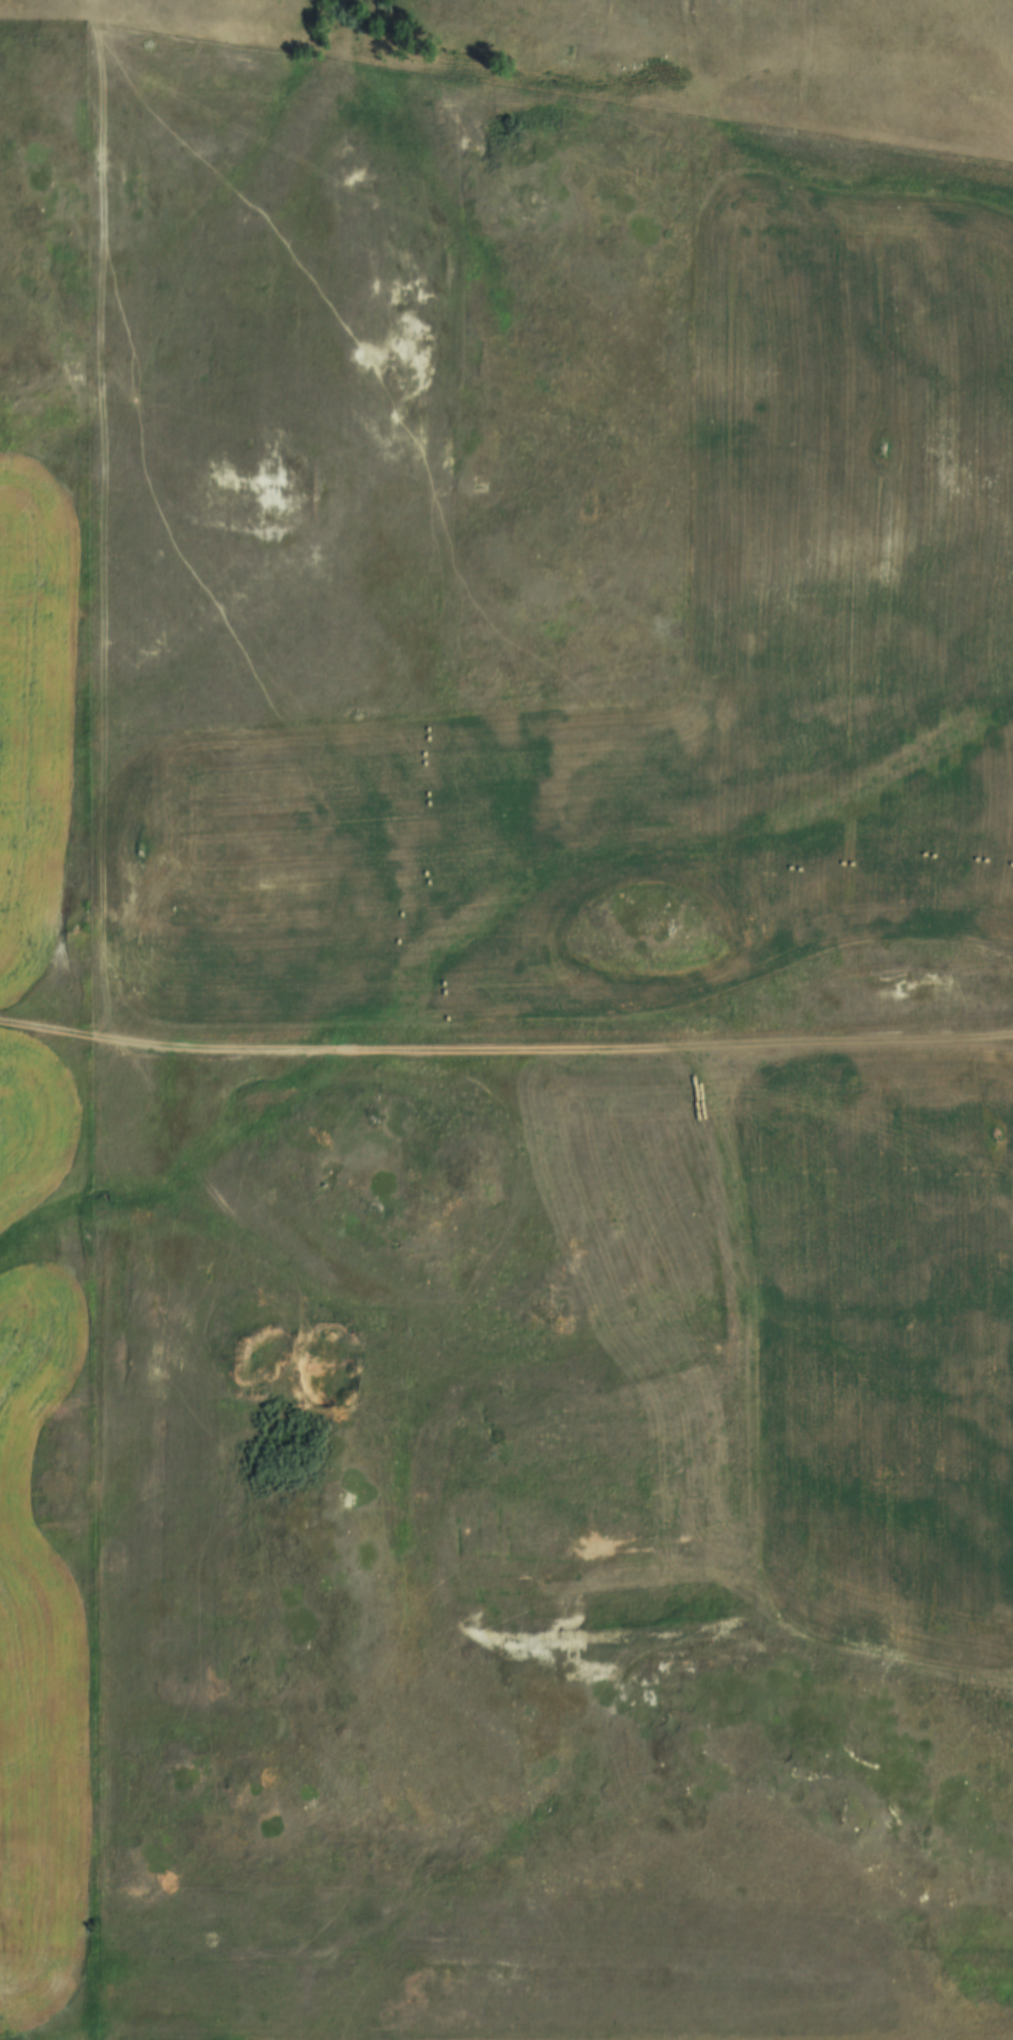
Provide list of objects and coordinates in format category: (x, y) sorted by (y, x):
road: (505, 1051)

